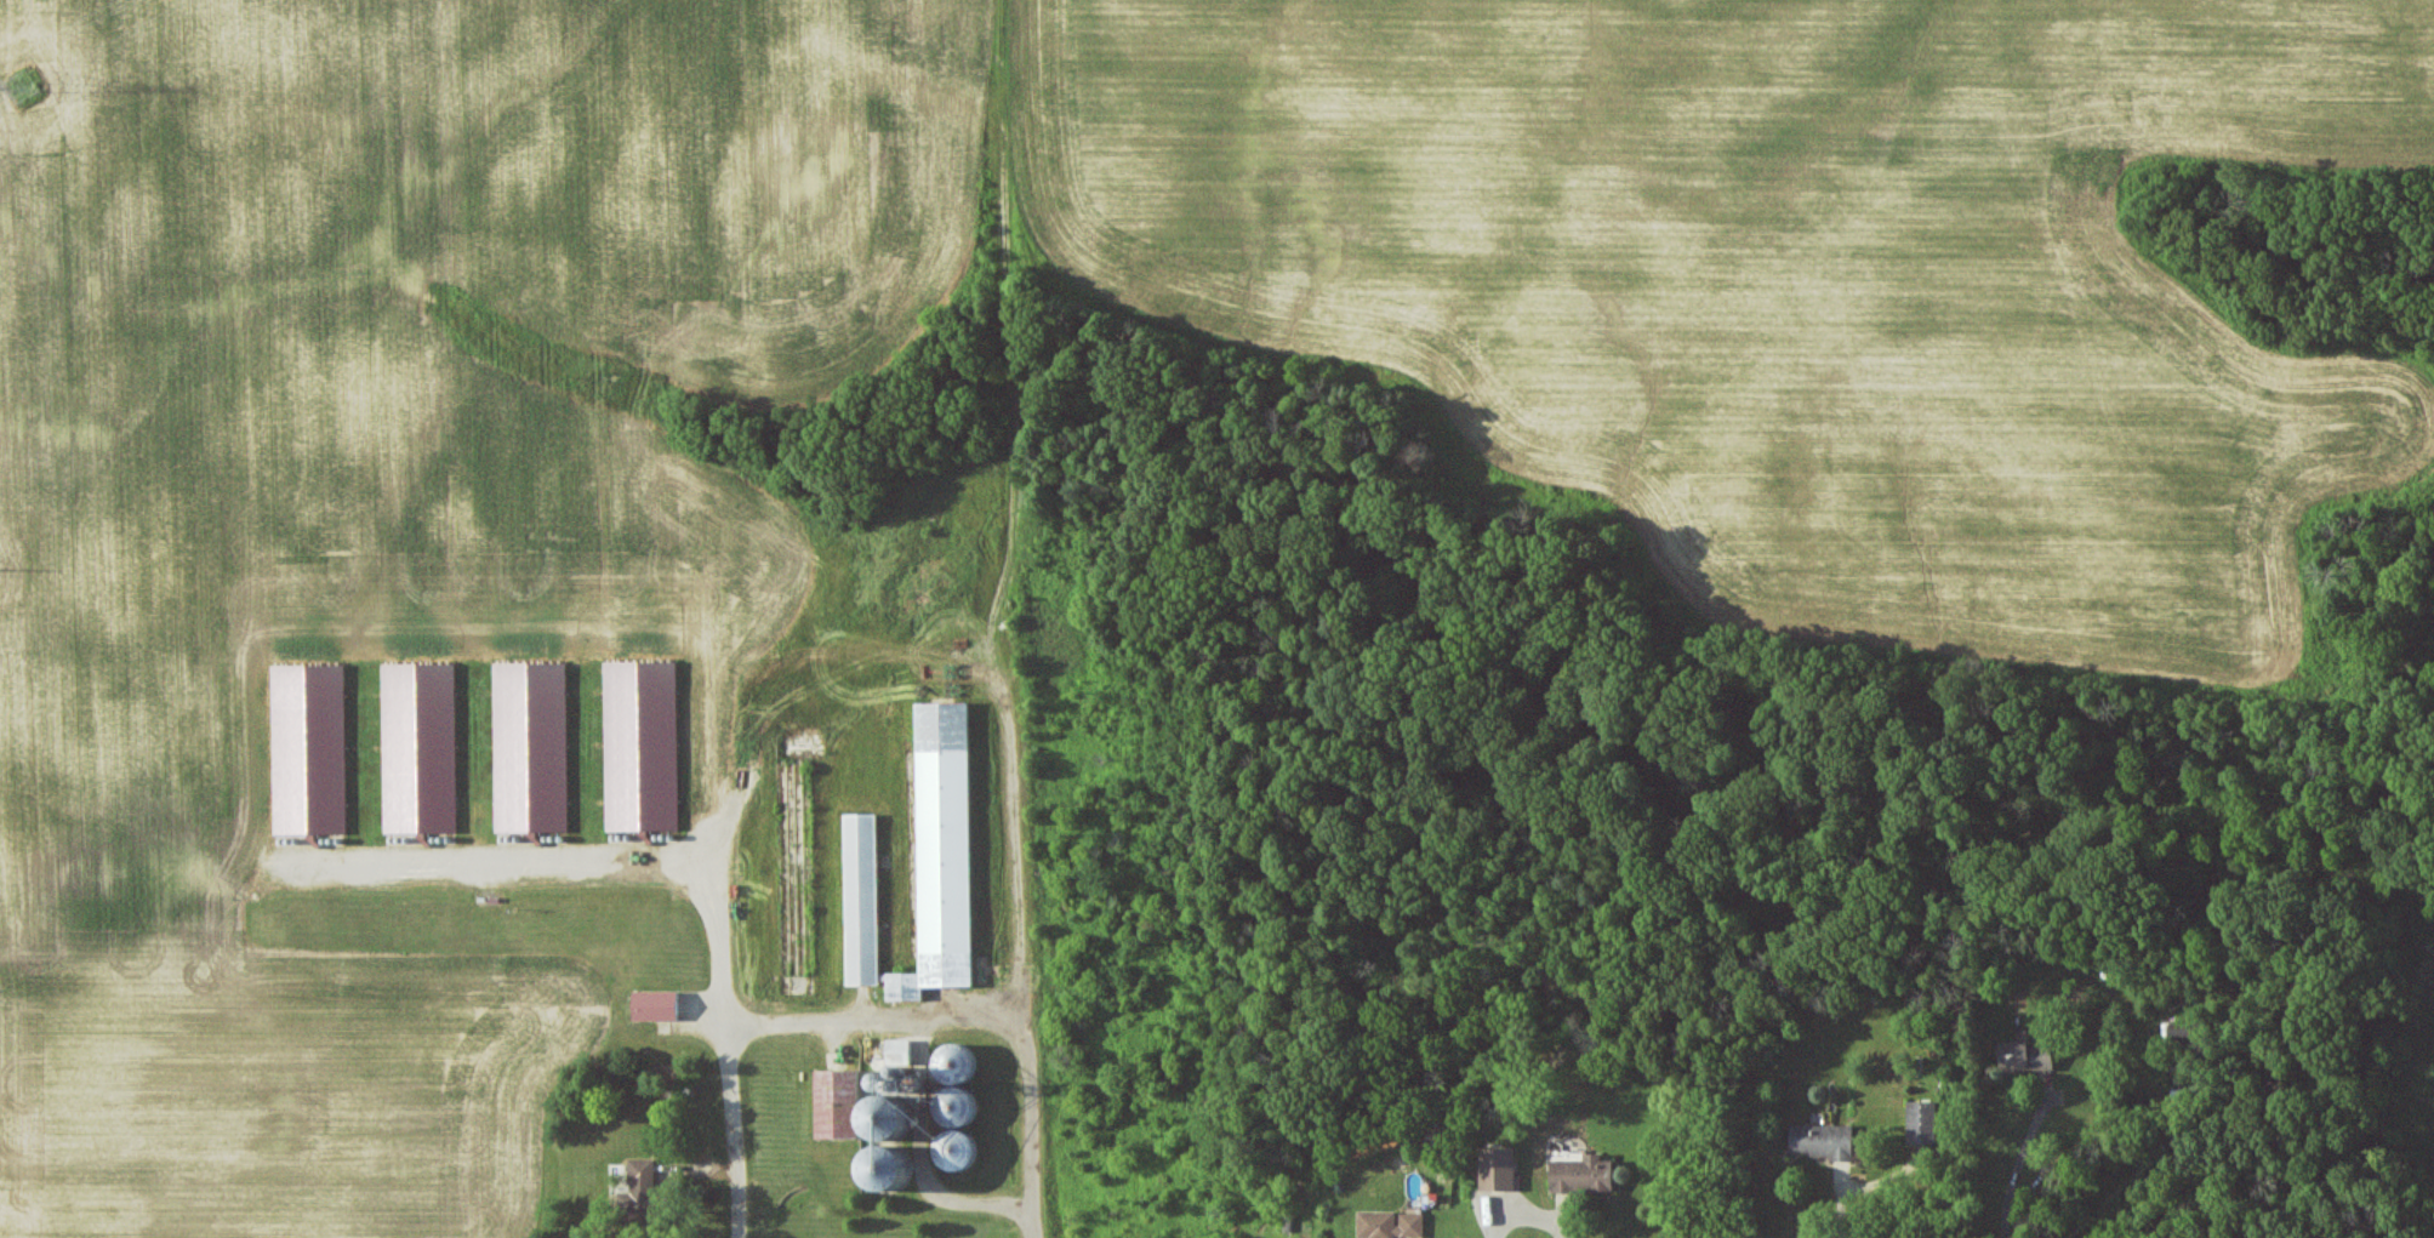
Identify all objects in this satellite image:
power tower: (35, 87)
road: (1004, 318)
building: (939, 851)
road: (690, 869)
building: (857, 898)
road: (1024, 936)
building: (654, 1004)
road: (876, 1023)
building: (895, 1050)
building: (2023, 1056)
building: (952, 1107)
building: (1920, 1123)
building: (861, 1125)
building: (1819, 1140)
road: (2024, 1162)
building: (1495, 1168)
building: (1579, 1174)
building: (637, 1188)
road: (1841, 1205)
road: (974, 1208)
road: (1524, 1217)
building: (1386, 1223)

